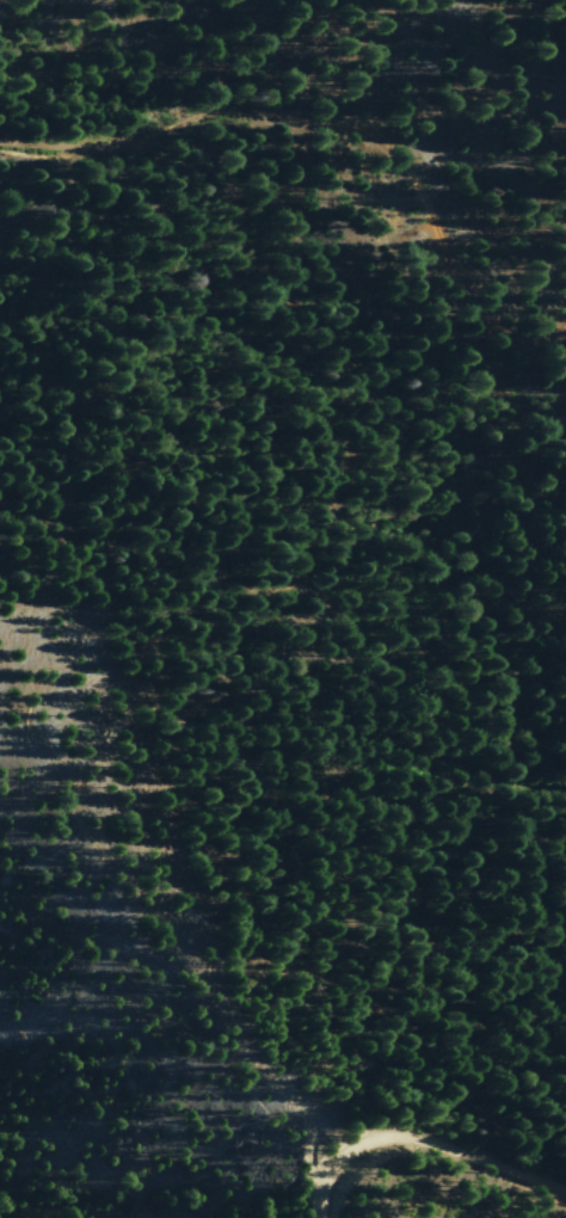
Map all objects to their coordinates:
road: (441, 1164)

